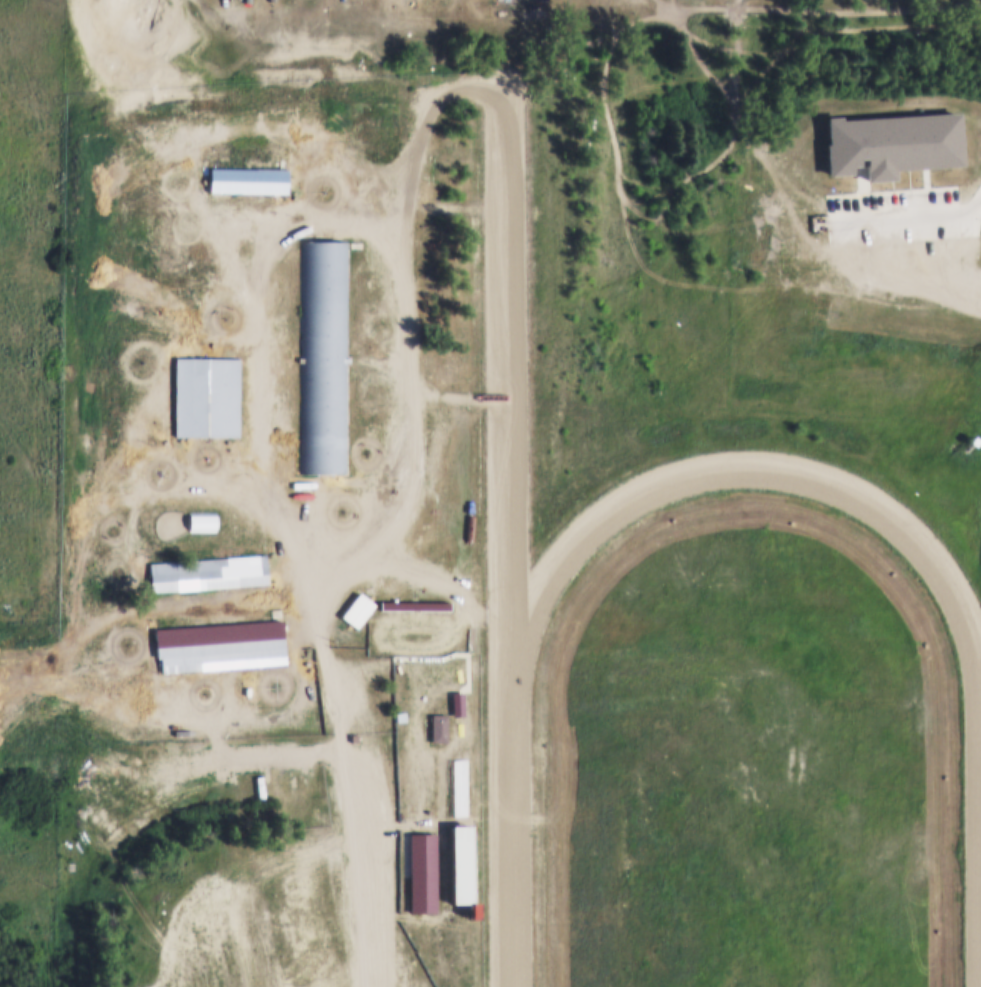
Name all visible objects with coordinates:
building: (889, 141)
building: (325, 354)
building: (206, 394)
raceway: (501, 400)
building: (970, 439)
raceway: (687, 481)
building: (202, 520)
building: (208, 571)
building: (219, 636)
building: (434, 729)
road: (339, 741)
building: (458, 862)
building: (423, 871)

